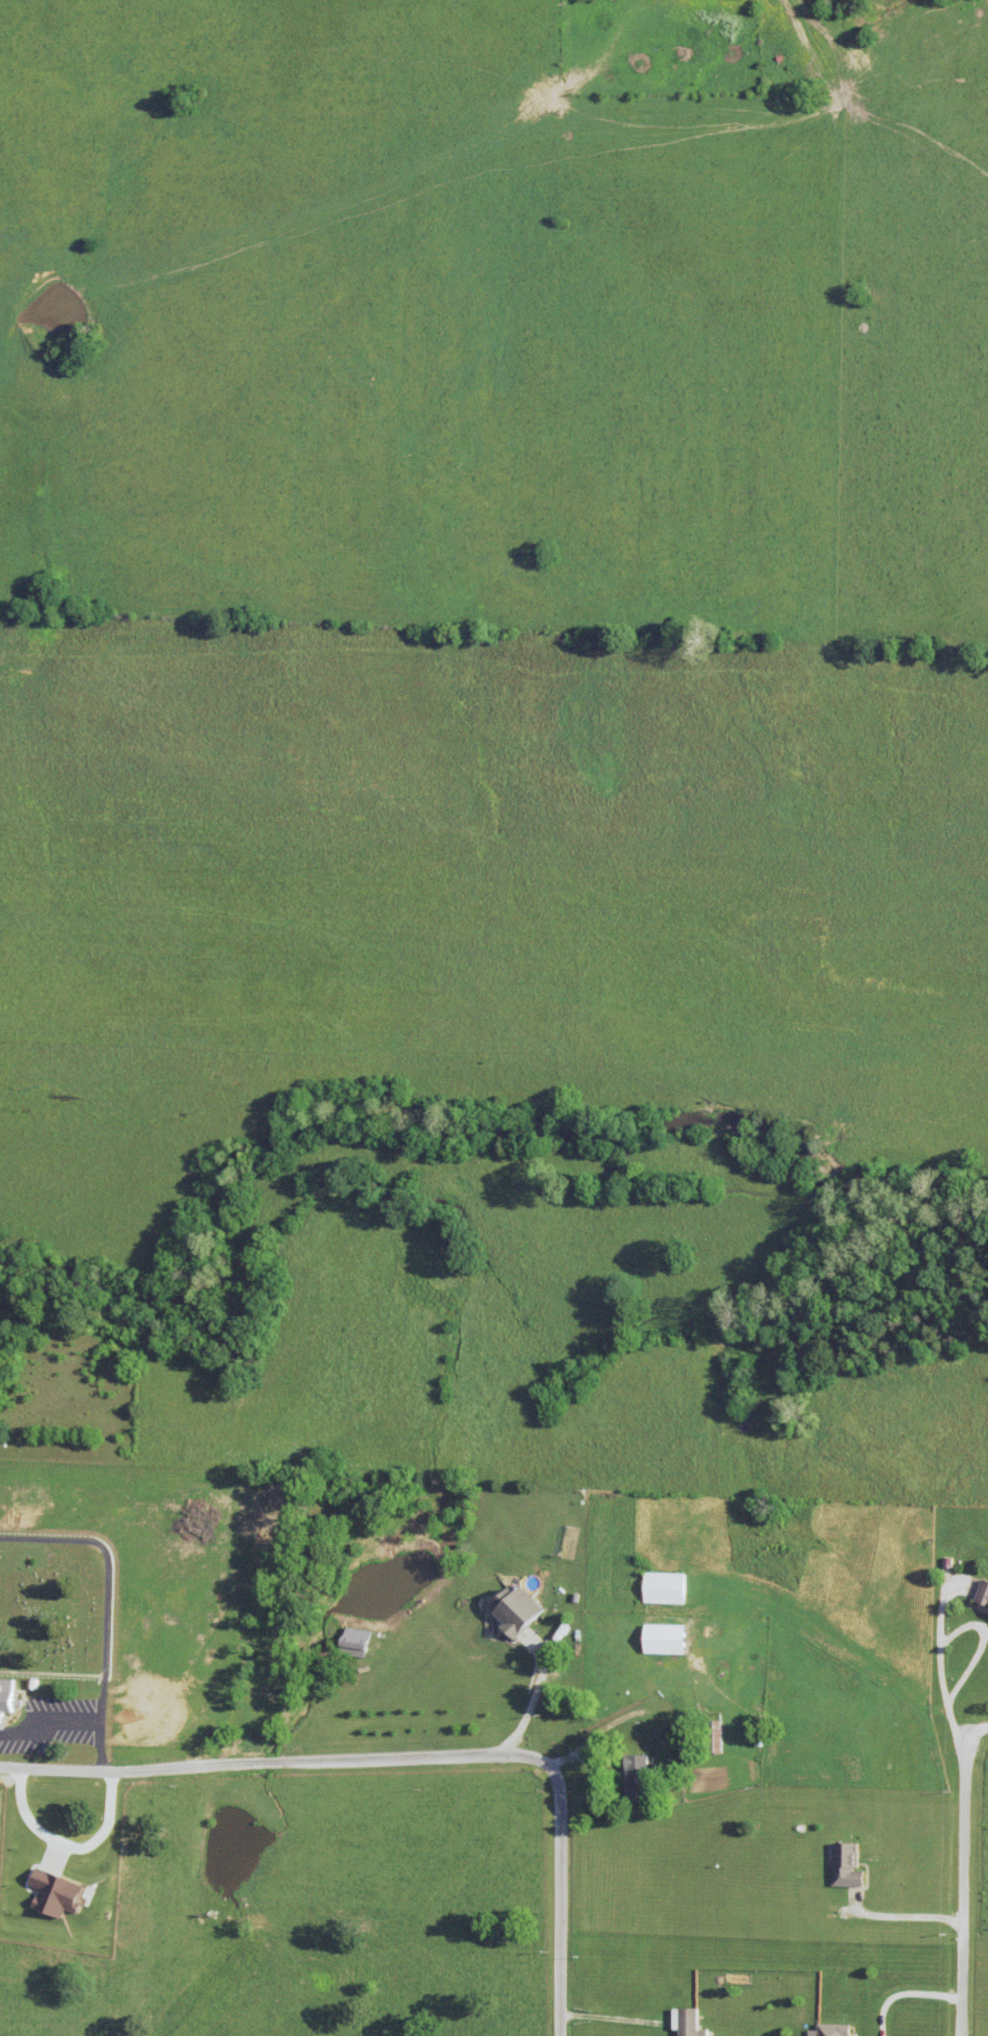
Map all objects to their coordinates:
building: (666, 1587)
building: (983, 1594)
building: (520, 1609)
road: (957, 1632)
building: (666, 1638)
road: (536, 1696)
building: (8, 1699)
road: (979, 1731)
road: (595, 1735)
road: (413, 1759)
building: (639, 1778)
building: (848, 1864)
road: (968, 1886)
road: (909, 1914)
building: (688, 2022)
building: (824, 2035)

